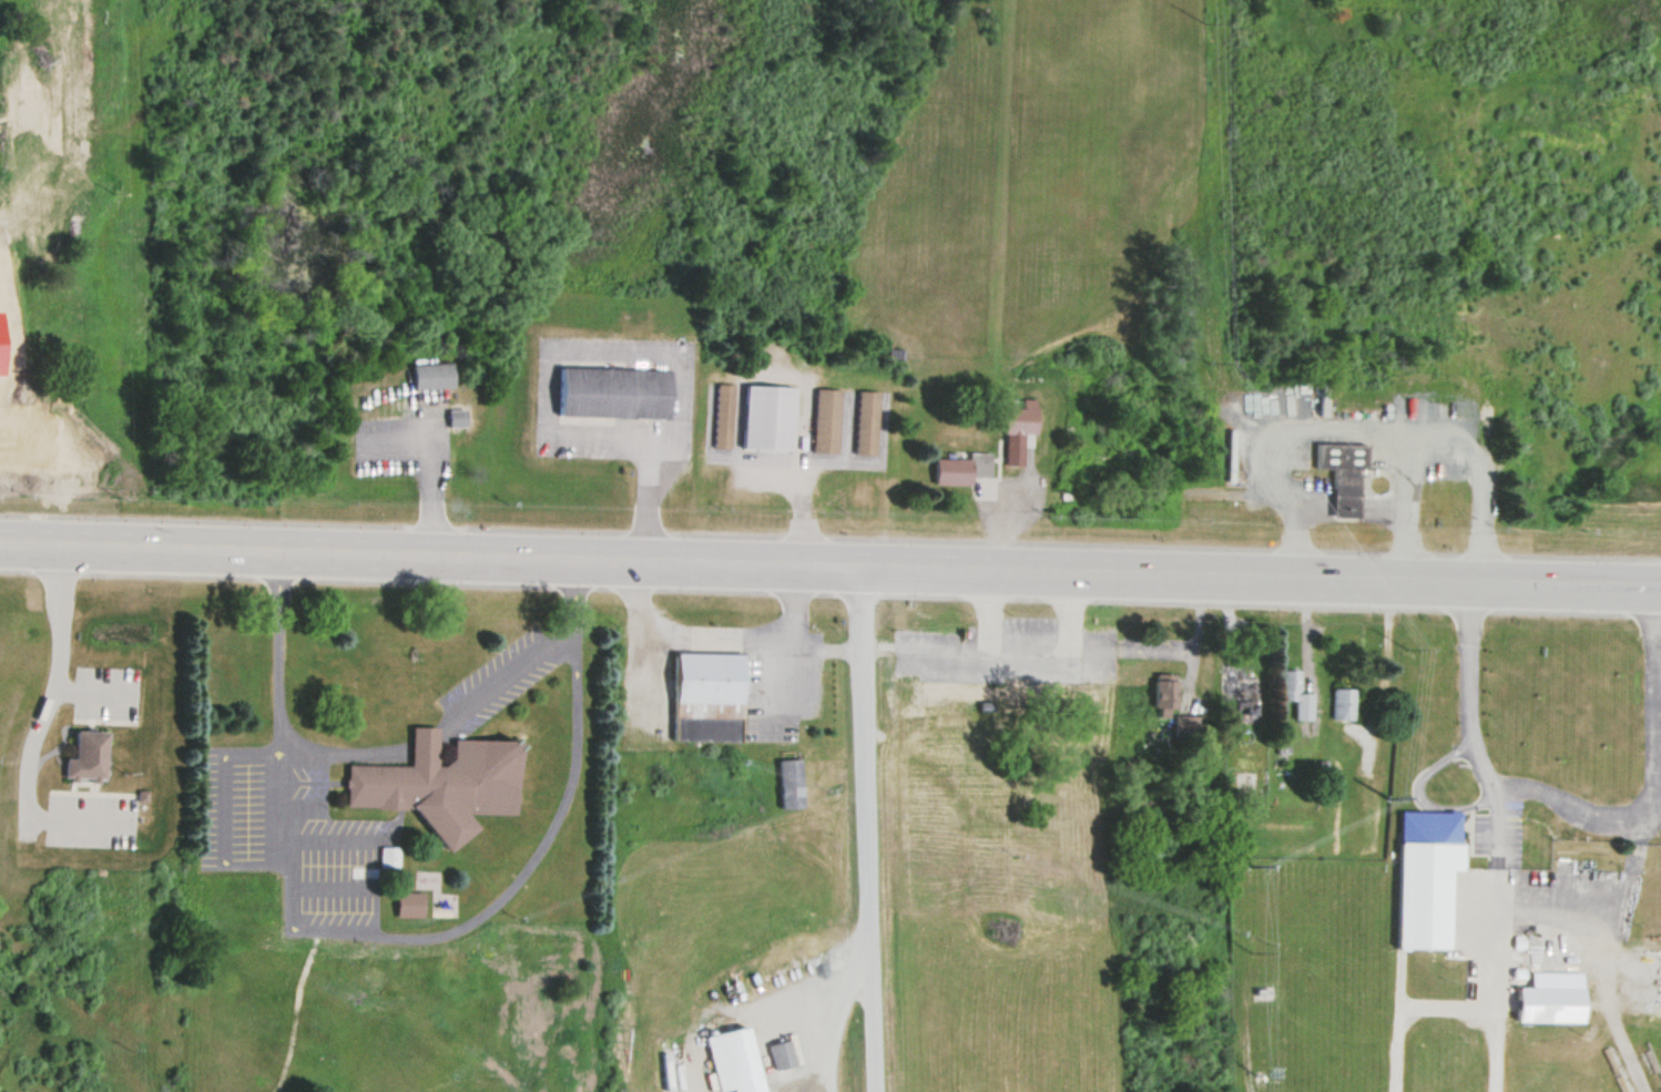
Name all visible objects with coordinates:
building: (431, 377)
building: (613, 394)
building: (722, 416)
building: (767, 417)
building: (456, 418)
building: (825, 420)
building: (866, 422)
building: (1015, 450)
building: (964, 470)
building: (1344, 476)
road: (829, 567)
road: (511, 660)
parking lot: (497, 666)
road: (85, 683)
parking lot: (102, 683)
building: (960, 691)
building: (1063, 691)
building: (1163, 692)
building: (1239, 692)
building: (1294, 693)
building: (707, 695)
building: (1342, 703)
road: (32, 724)
building: (84, 746)
building: (439, 768)
building: (974, 779)
building: (1369, 793)
parking lot: (89, 812)
road: (865, 829)
parking lot: (287, 835)
building: (1426, 875)
building: (409, 904)
road: (391, 929)
building: (1550, 1003)
building: (782, 1053)
building: (735, 1060)

